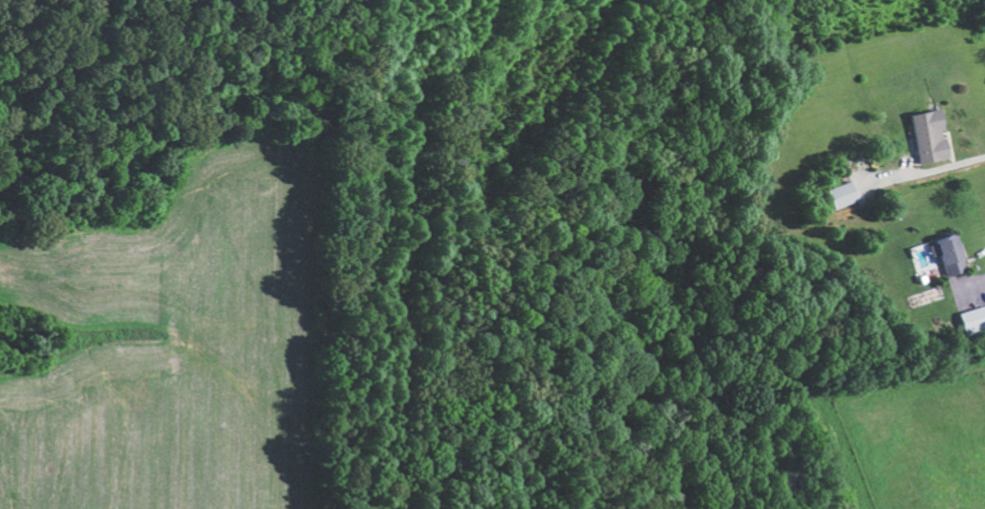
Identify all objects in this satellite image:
building: (934, 136)
building: (847, 194)
building: (943, 252)
building: (970, 317)

